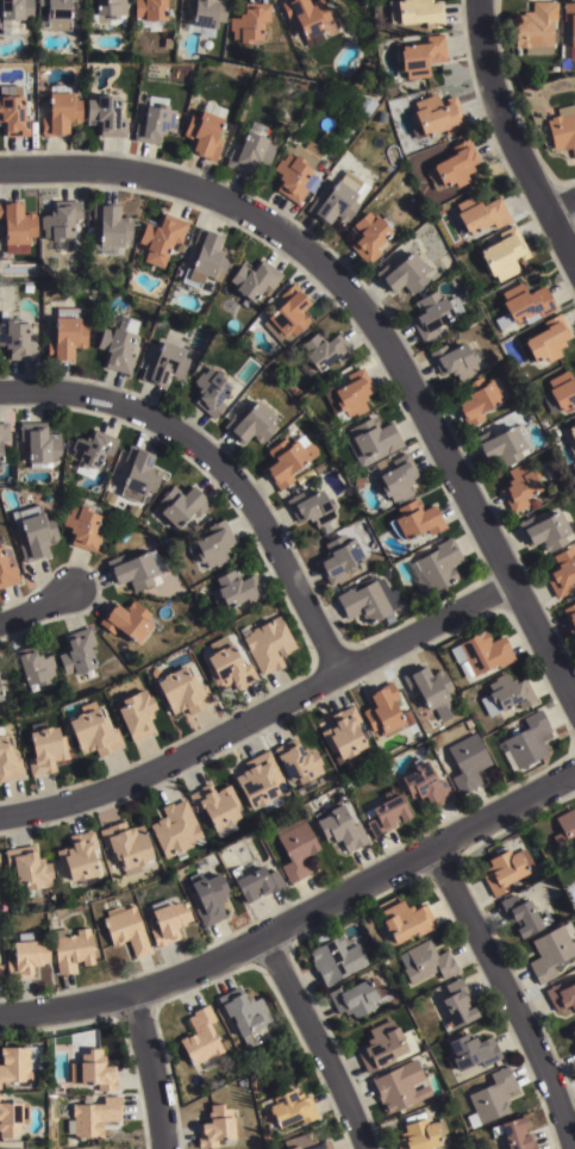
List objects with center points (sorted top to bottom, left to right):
building: (105, 12)
building: (415, 13)
building: (13, 14)
building: (151, 14)
building: (54, 15)
building: (207, 17)
building: (308, 18)
building: (250, 26)
building: (535, 29)
building: (569, 29)
building: (419, 58)
building: (345, 102)
building: (60, 113)
building: (12, 114)
building: (105, 118)
building: (435, 118)
building: (155, 123)
building: (560, 131)
building: (205, 132)
road: (513, 137)
building: (251, 151)
building: (454, 168)
building: (295, 171)
building: (338, 196)
road: (560, 204)
building: (481, 211)
building: (61, 221)
building: (17, 224)
building: (111, 225)
building: (368, 233)
building: (161, 237)
building: (504, 254)
building: (206, 256)
building: (402, 270)
building: (254, 276)
building: (524, 301)
building: (286, 312)
building: (432, 312)
road: (376, 326)
building: (67, 335)
building: (15, 337)
building: (545, 338)
building: (118, 342)
building: (323, 350)
building: (456, 357)
building: (544, 362)
building: (165, 363)
building: (208, 389)
building: (560, 391)
building: (348, 395)
building: (476, 398)
building: (251, 423)
building: (4, 432)
building: (570, 436)
building: (371, 439)
building: (500, 443)
building: (40, 444)
building: (90, 451)
building: (0, 454)
building: (287, 457)
building: (377, 463)
road: (218, 464)
building: (139, 474)
building: (396, 479)
building: (520, 485)
building: (533, 501)
building: (183, 506)
building: (312, 507)
building: (415, 519)
building: (82, 526)
building: (35, 529)
building: (545, 529)
building: (211, 544)
building: (338, 556)
building: (437, 563)
building: (135, 568)
building: (6, 570)
building: (562, 572)
building: (236, 588)
building: (369, 601)
road: (37, 607)
building: (570, 614)
building: (126, 619)
building: (268, 643)
building: (77, 651)
building: (481, 652)
building: (32, 664)
building: (227, 664)
building: (0, 668)
building: (183, 691)
building: (432, 691)
building: (506, 694)
building: (0, 697)
building: (385, 711)
building: (137, 713)
road: (258, 713)
building: (93, 730)
building: (345, 736)
building: (526, 739)
building: (45, 749)
building: (8, 761)
building: (468, 762)
building: (300, 763)
building: (261, 782)
building: (425, 783)
building: (217, 807)
building: (385, 814)
building: (338, 828)
building: (564, 829)
building: (176, 830)
building: (126, 845)
building: (296, 848)
building: (79, 856)
building: (27, 869)
building: (501, 870)
building: (256, 882)
building: (210, 897)
building: (519, 916)
road: (295, 918)
building: (167, 920)
building: (405, 920)
building: (125, 929)
building: (71, 949)
building: (550, 950)
building: (27, 955)
building: (336, 958)
building: (425, 962)
building: (0, 974)
road: (510, 994)
building: (561, 995)
building: (355, 998)
building: (456, 1006)
building: (244, 1016)
building: (573, 1036)
road: (315, 1041)
building: (201, 1042)
building: (385, 1047)
building: (471, 1053)
building: (18, 1063)
road: (150, 1070)
building: (93, 1072)
building: (400, 1087)
building: (490, 1098)
building: (286, 1110)
building: (92, 1118)
building: (12, 1119)
building: (217, 1128)
building: (517, 1135)
building: (424, 1136)
building: (304, 1143)
building: (20, 1148)

